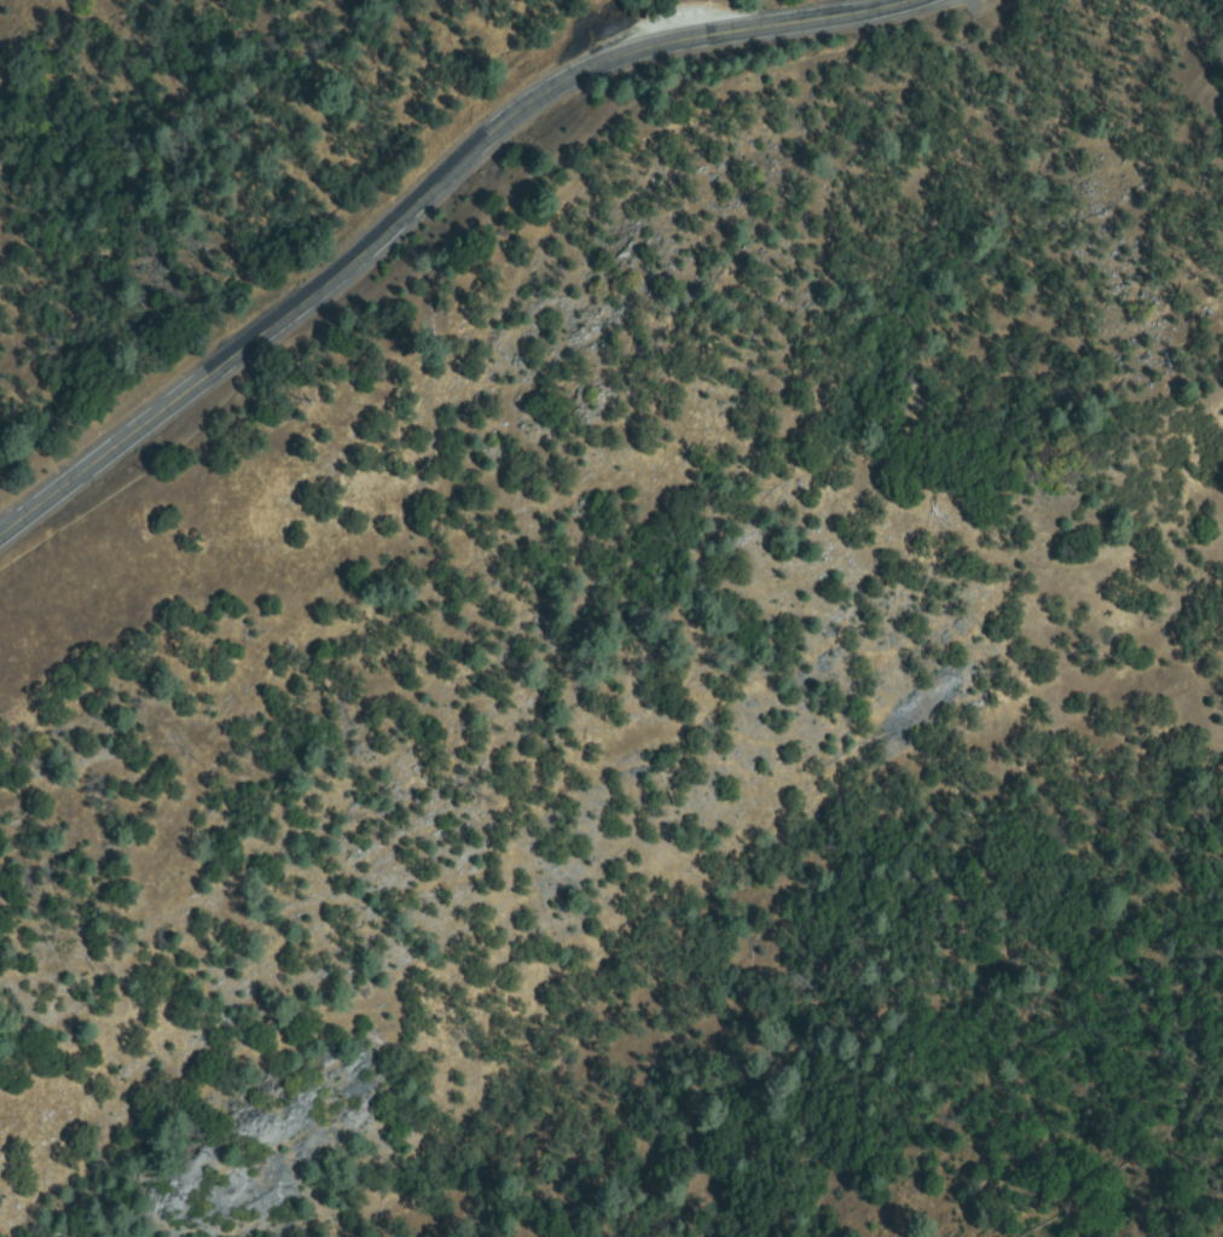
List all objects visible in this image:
road: (422, 196)

